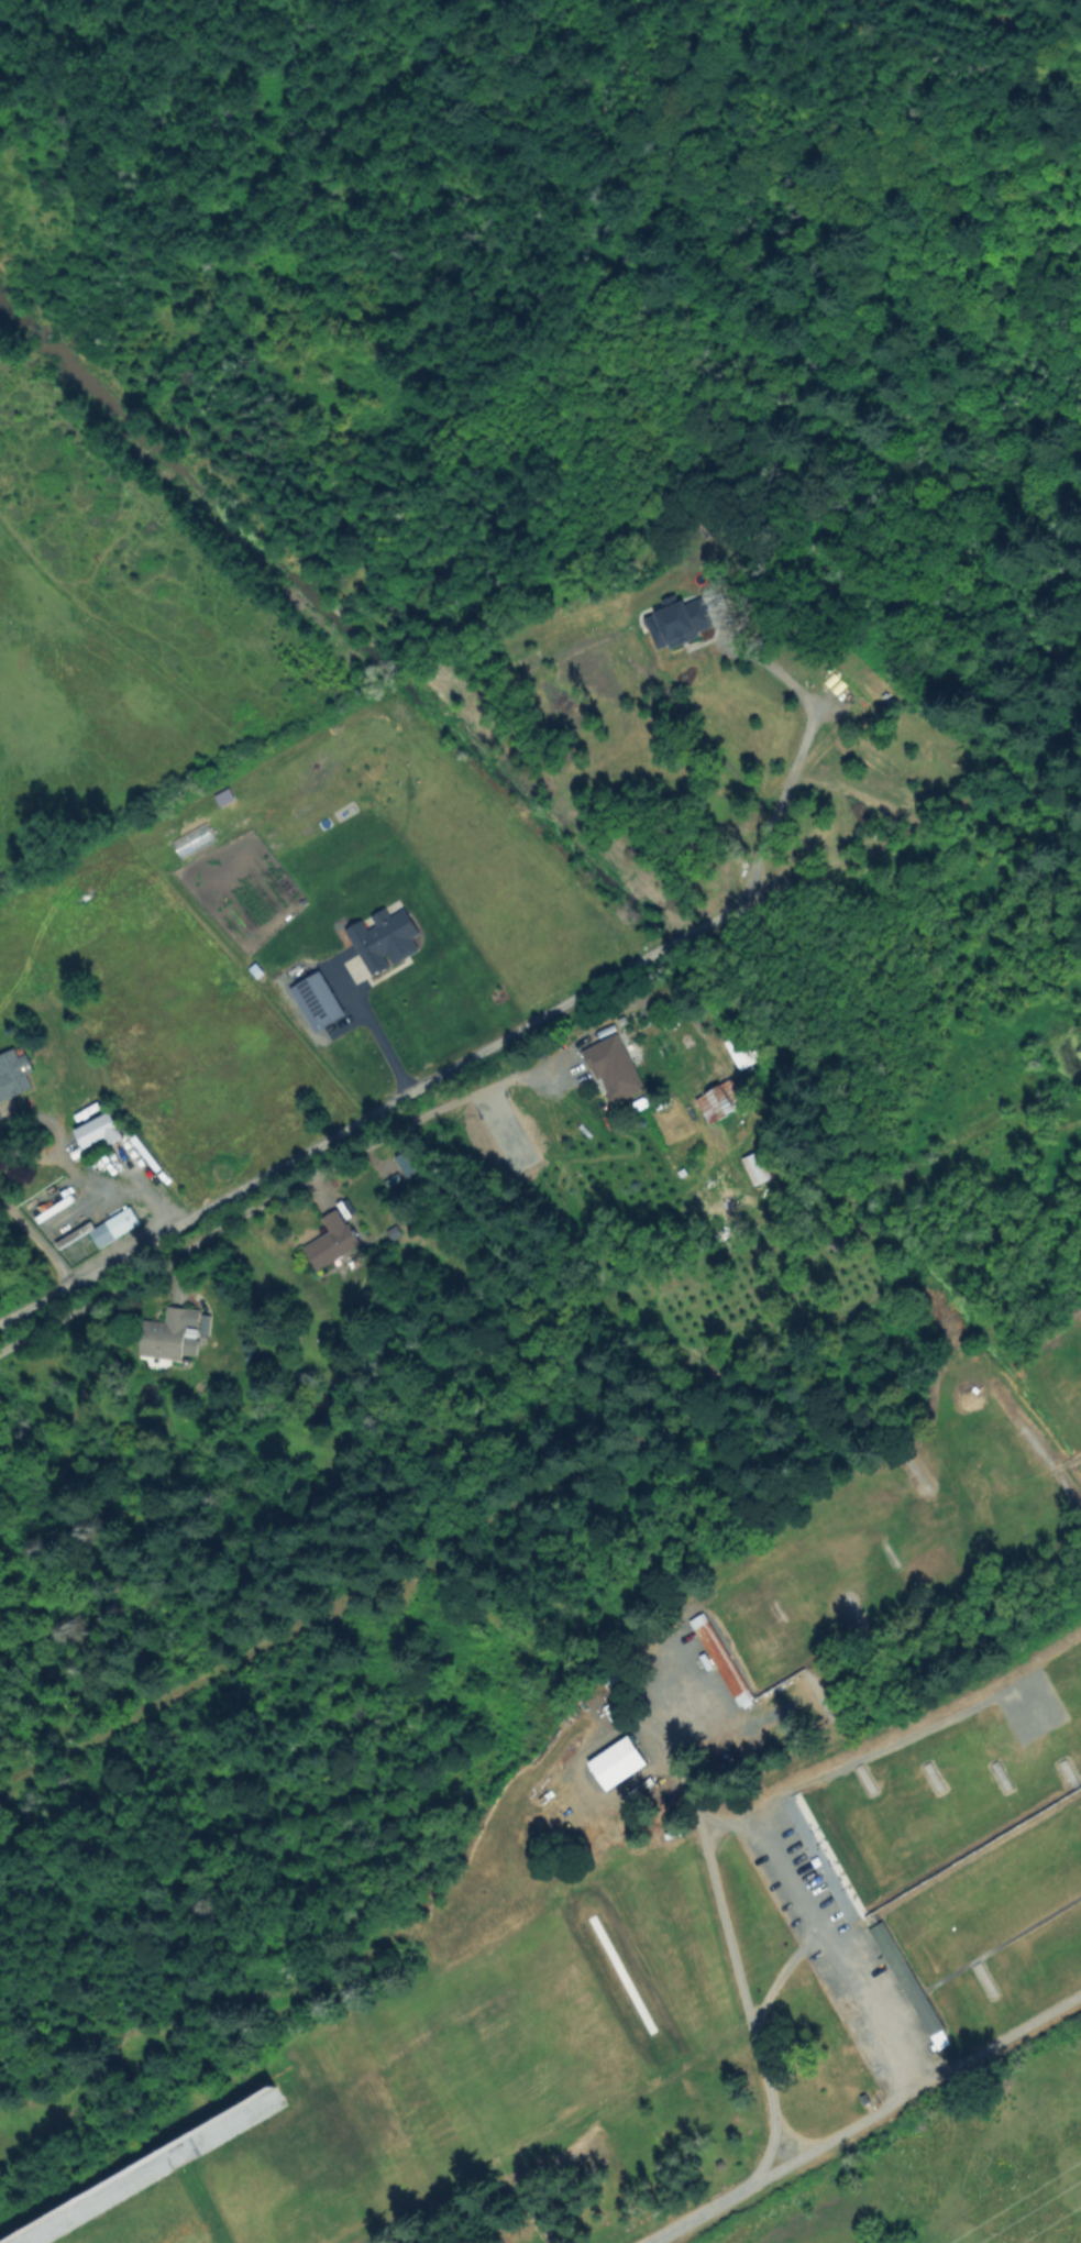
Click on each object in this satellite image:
road: (796, 767)
building: (616, 1031)
road: (377, 1041)
building: (741, 1051)
building: (13, 1076)
building: (618, 1076)
building: (721, 1107)
road: (373, 1144)
building: (411, 1163)
road: (68, 1164)
building: (759, 1167)
road: (145, 1190)
building: (398, 1232)
building: (104, 1235)
building: (333, 1241)
building: (207, 1326)
building: (172, 1333)
building: (718, 1660)
building: (703, 1673)
road: (663, 1741)
building: (616, 1764)
road: (713, 1828)
building: (907, 1979)
road: (864, 2121)

